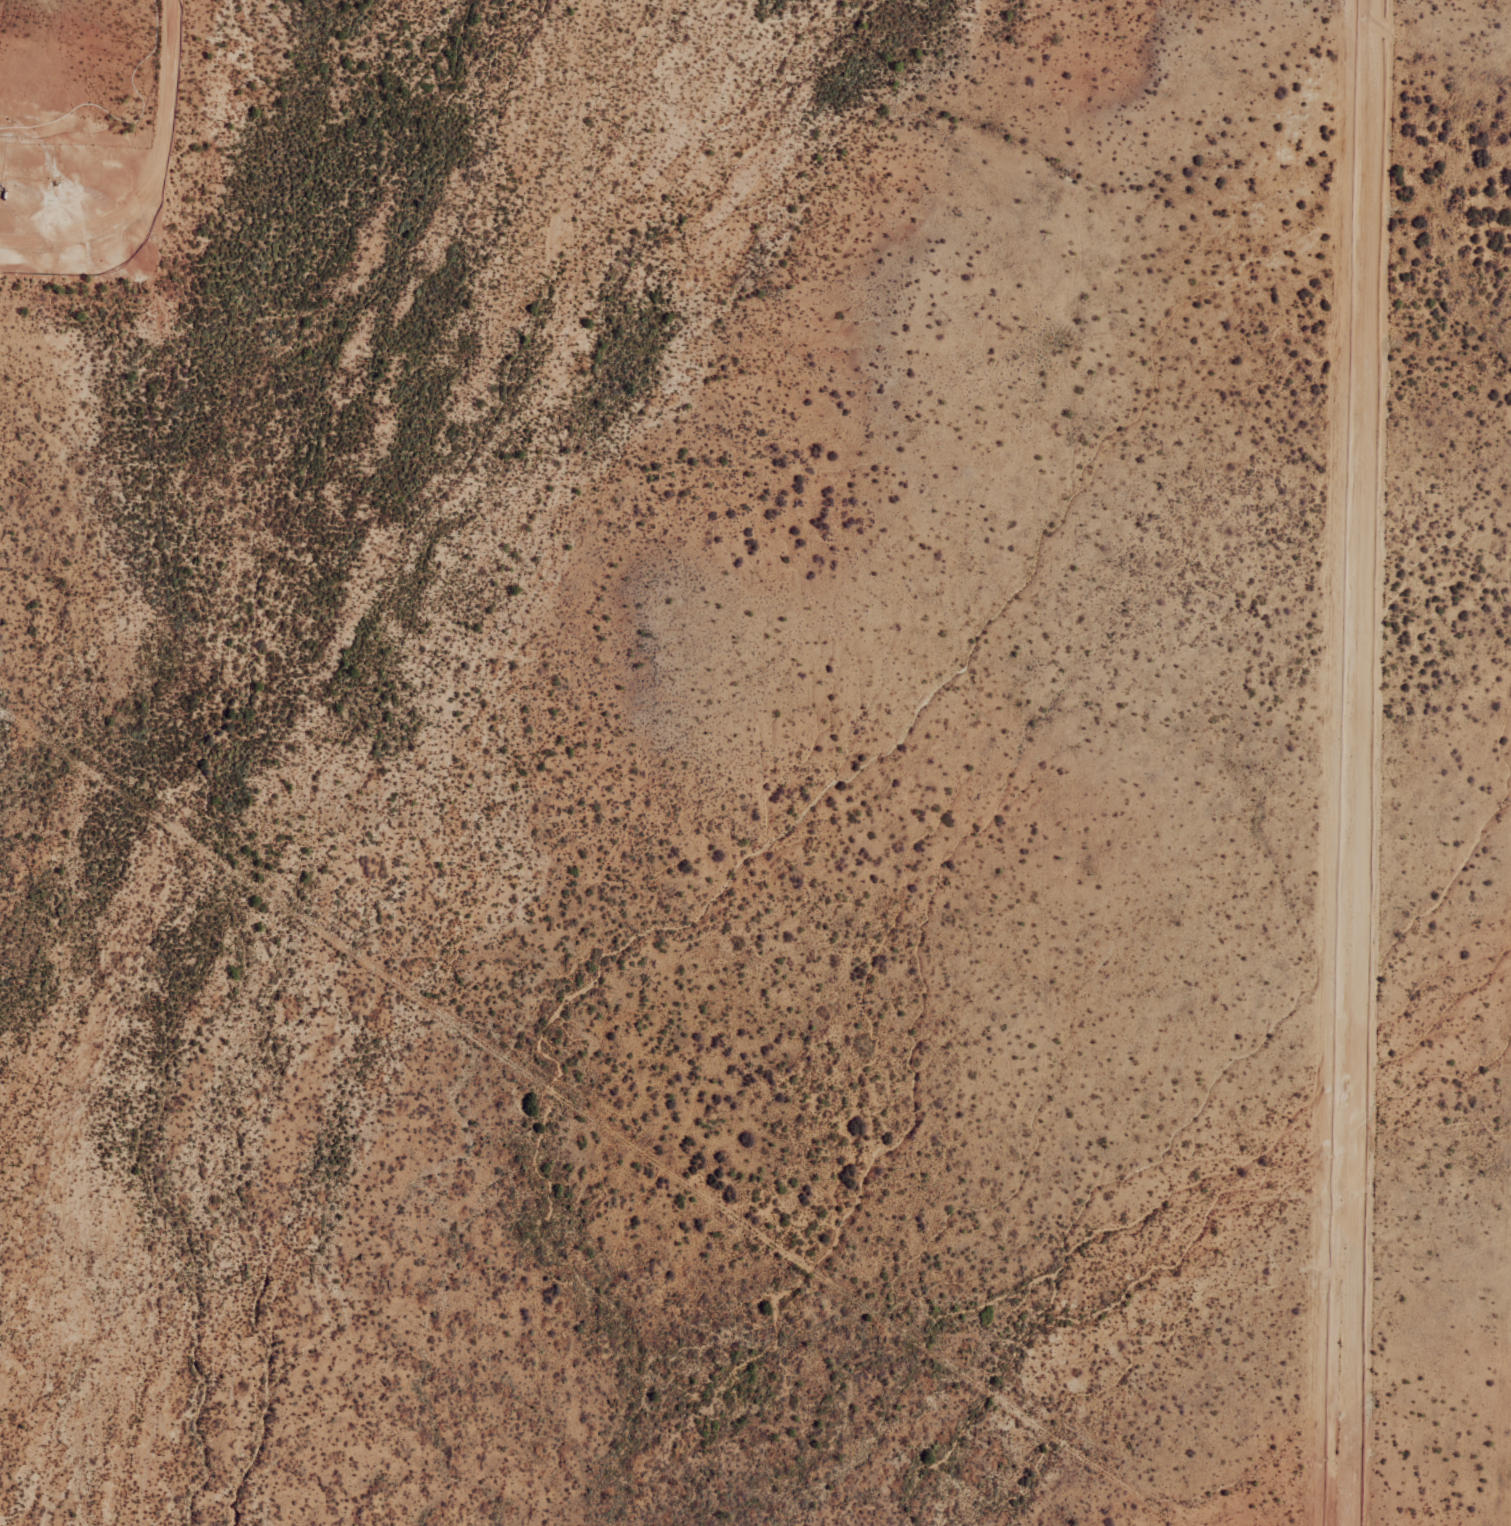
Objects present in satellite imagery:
road: (143, 176)
petroleum well: (54, 182)

